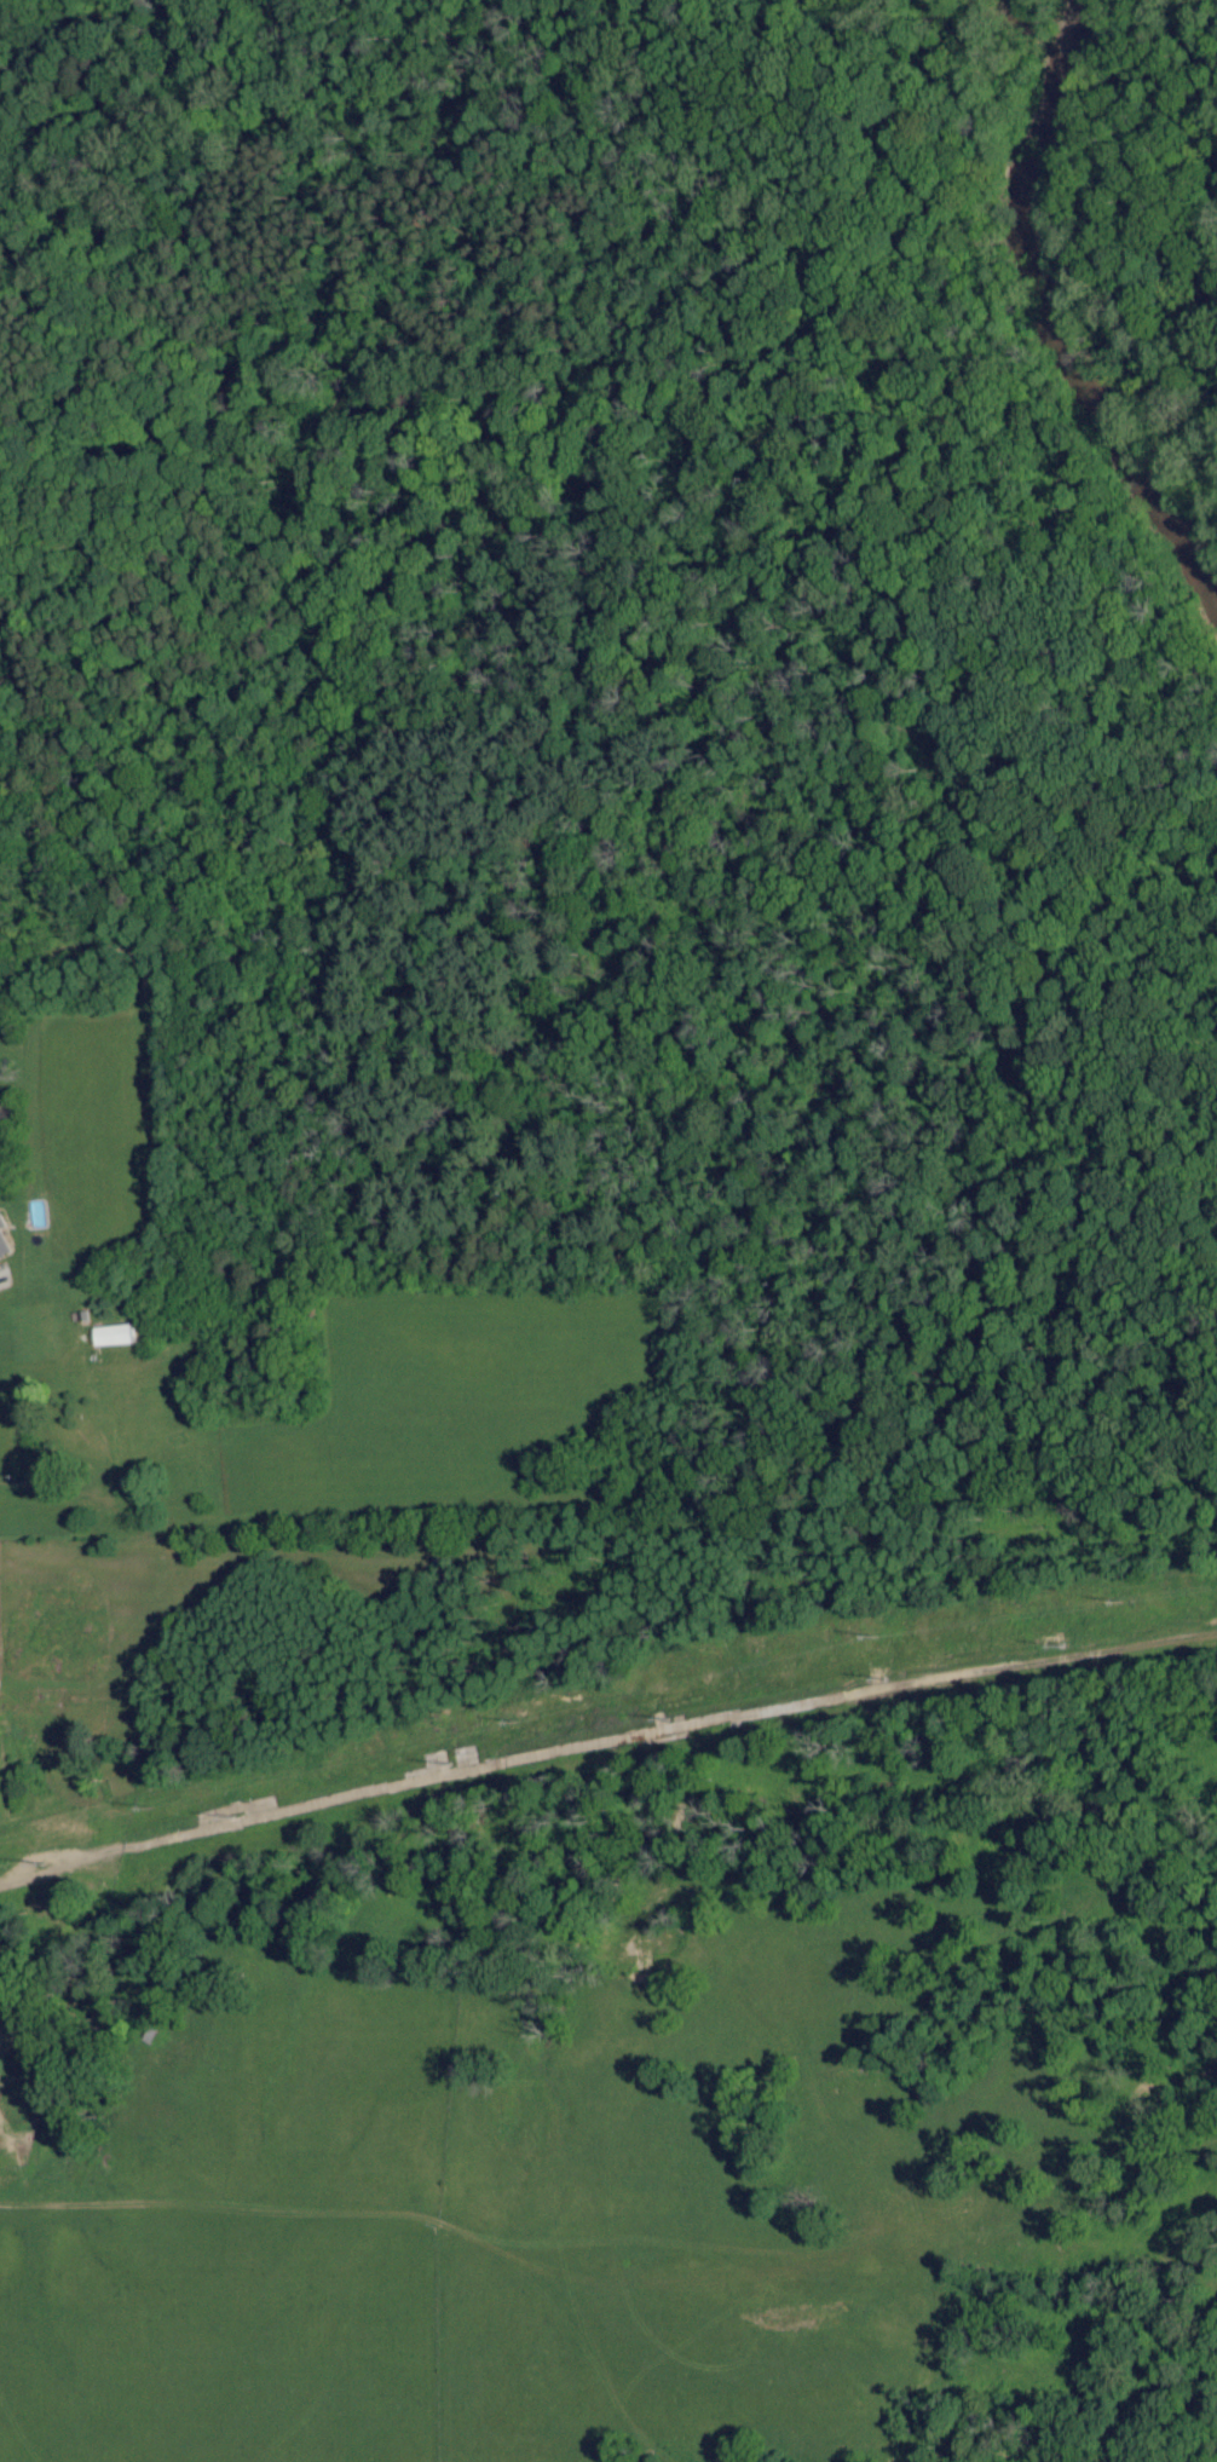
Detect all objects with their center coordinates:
building: (0, 1224)
building: (2, 1246)
building: (110, 1334)

